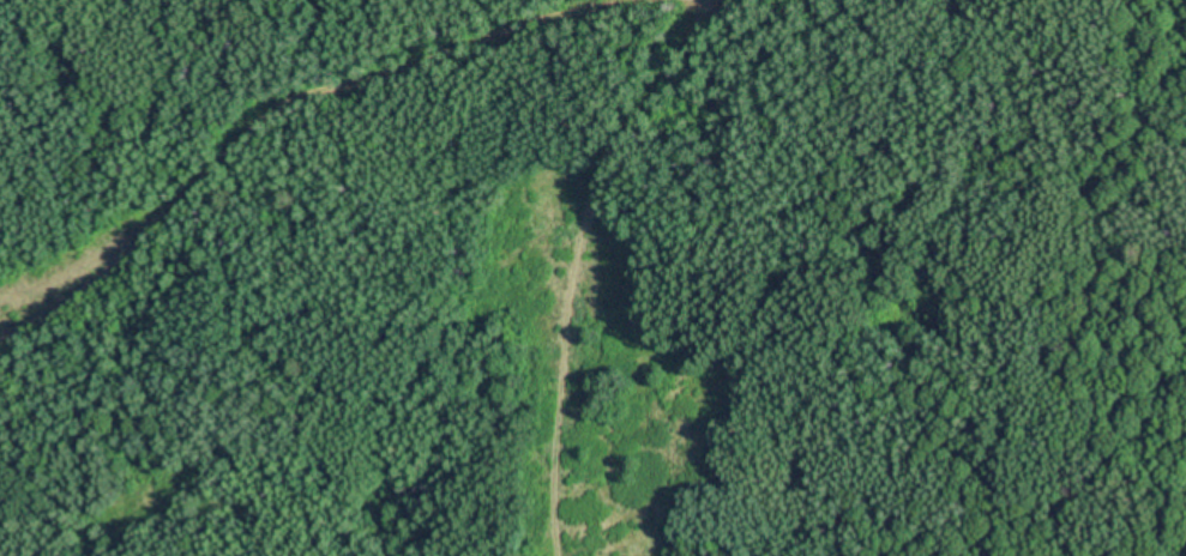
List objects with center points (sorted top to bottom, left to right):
road: (275, 126)

